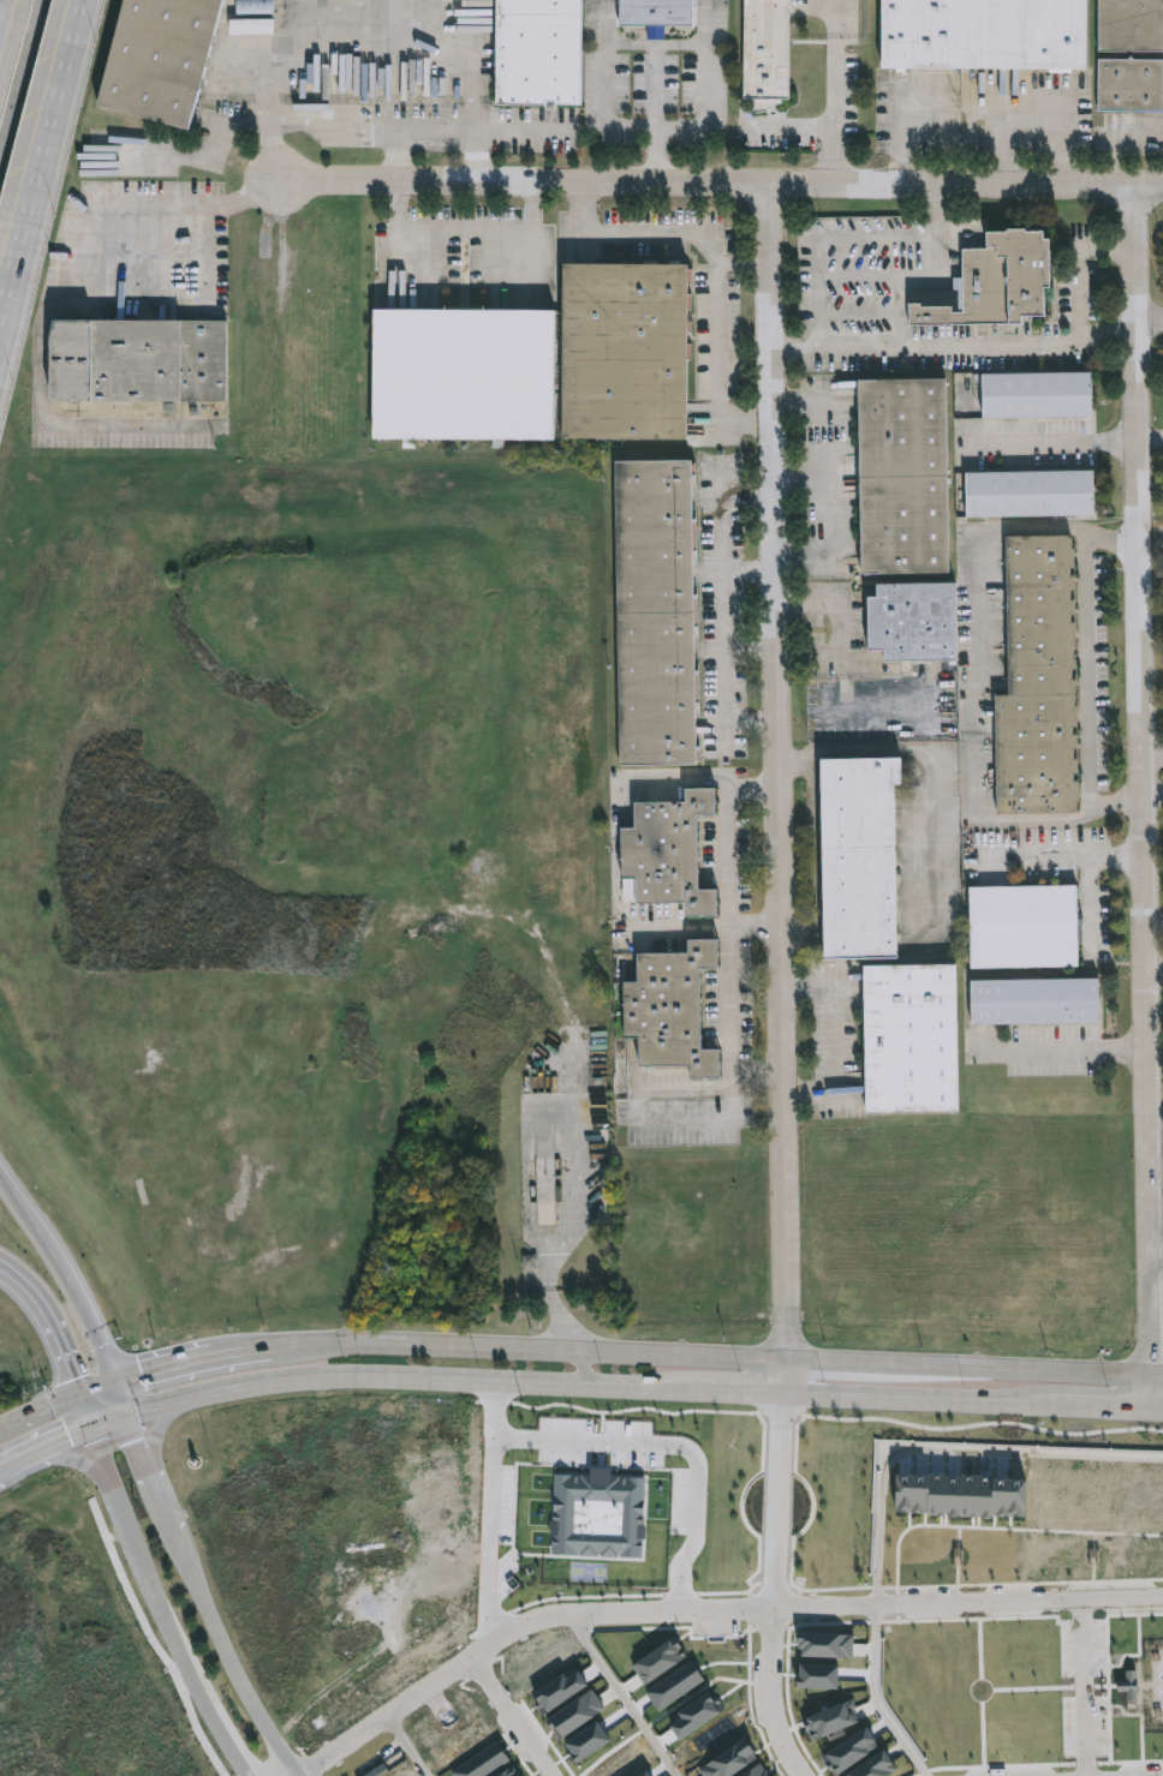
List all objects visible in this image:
road: (0, 1)
building: (657, 12)
building: (1131, 24)
building: (985, 34)
road: (360, 36)
road: (614, 43)
road: (704, 43)
building: (768, 49)
building: (542, 52)
building: (161, 58)
building: (1131, 85)
road: (835, 90)
road: (985, 109)
road: (658, 114)
road: (332, 128)
road: (794, 128)
road: (539, 130)
road: (410, 131)
road: (652, 133)
road: (1115, 134)
road: (1004, 146)
road: (43, 168)
road: (722, 181)
road: (205, 215)
road: (464, 233)
road: (858, 238)
road: (746, 262)
road: (718, 263)
road: (888, 280)
building: (1000, 282)
road: (1079, 299)
road: (1151, 323)
road: (36, 336)
road: (2, 346)
road: (928, 348)
building: (627, 352)
building: (139, 360)
building: (465, 376)
building: (1039, 395)
road: (1151, 436)
road: (1057, 437)
building: (906, 477)
building: (1031, 494)
road: (1152, 537)
road: (750, 573)
building: (651, 610)
road: (723, 610)
building: (914, 622)
road: (842, 630)
road: (751, 642)
road: (1090, 674)
road: (978, 682)
building: (1039, 683)
road: (1153, 752)
road: (935, 771)
road: (780, 788)
road: (1144, 793)
road: (1153, 799)
building: (662, 851)
road: (1033, 855)
building: (861, 859)
road: (1087, 880)
road: (705, 926)
building: (1025, 927)
road: (1153, 928)
road: (727, 931)
road: (1152, 967)
building: (663, 1007)
road: (842, 1039)
building: (913, 1040)
road: (1062, 1050)
road: (1152, 1111)
road: (14, 1195)
road: (1155, 1258)
building: (529, 1262)
road: (77, 1296)
road: (49, 1322)
road: (715, 1351)
road: (190, 1361)
road: (588, 1365)
road: (383, 1375)
traffic signals: (115, 1381)
road: (718, 1388)
traffic signals: (78, 1393)
road: (902, 1395)
road: (119, 1397)
road: (1084, 1400)
road: (56, 1401)
road: (1157, 1401)
road: (84, 1409)
traffic signals: (123, 1413)
road: (106, 1418)
traffic signals: (90, 1424)
road: (156, 1436)
road: (49, 1442)
road: (943, 1448)
road: (137, 1449)
road: (681, 1453)
road: (5, 1464)
road: (91, 1469)
building: (1043, 1494)
building: (960, 1495)
road: (156, 1496)
road: (497, 1509)
road: (166, 1520)
road: (145, 1569)
road: (775, 1587)
road: (712, 1613)
building: (827, 1643)
road: (229, 1657)
building: (654, 1661)
road: (1081, 1688)
road: (625, 1698)
road: (878, 1698)
building: (568, 1710)
road: (672, 1712)
building: (831, 1715)
road: (509, 1718)
road: (228, 1745)
road: (406, 1748)
building: (726, 1757)
building: (875, 1764)
building: (755, 1770)
building: (507, 1772)

